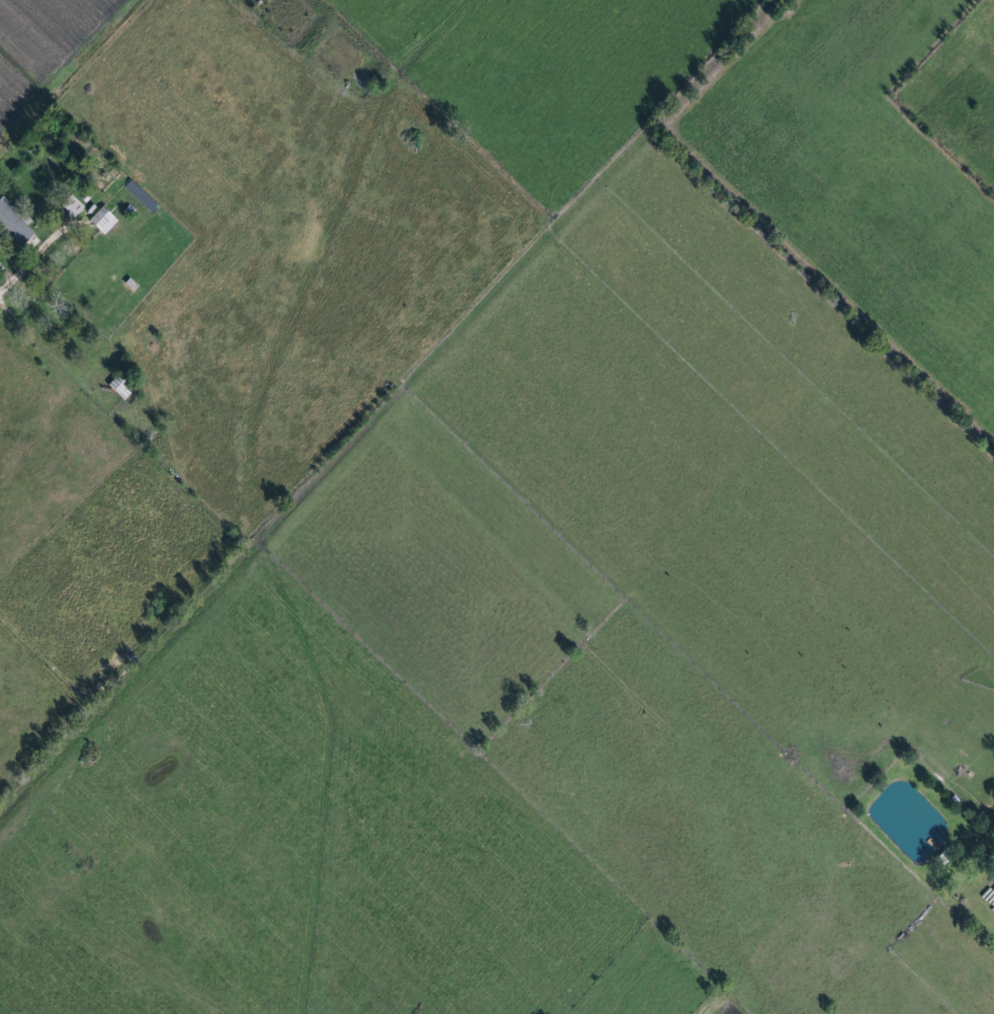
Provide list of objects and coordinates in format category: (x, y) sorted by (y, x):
building: (70, 207)
building: (100, 221)
building: (13, 226)
road: (31, 262)
road: (128, 951)

